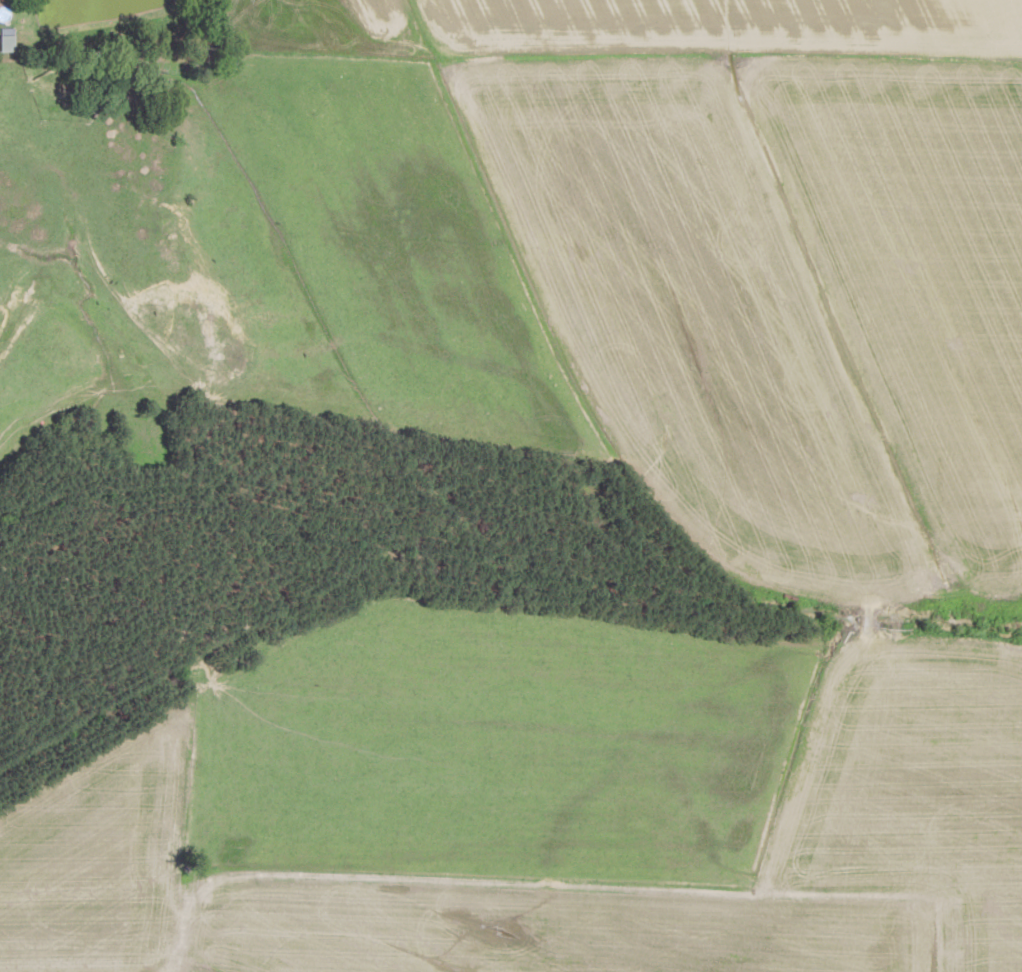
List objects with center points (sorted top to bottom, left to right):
building: (11, 43)
road: (5, 273)

